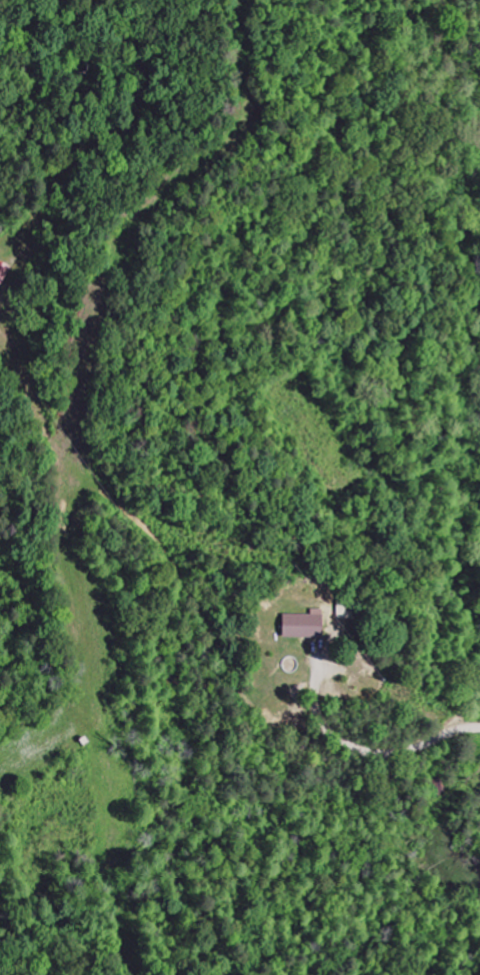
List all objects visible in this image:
building: (3, 271)
building: (304, 625)

